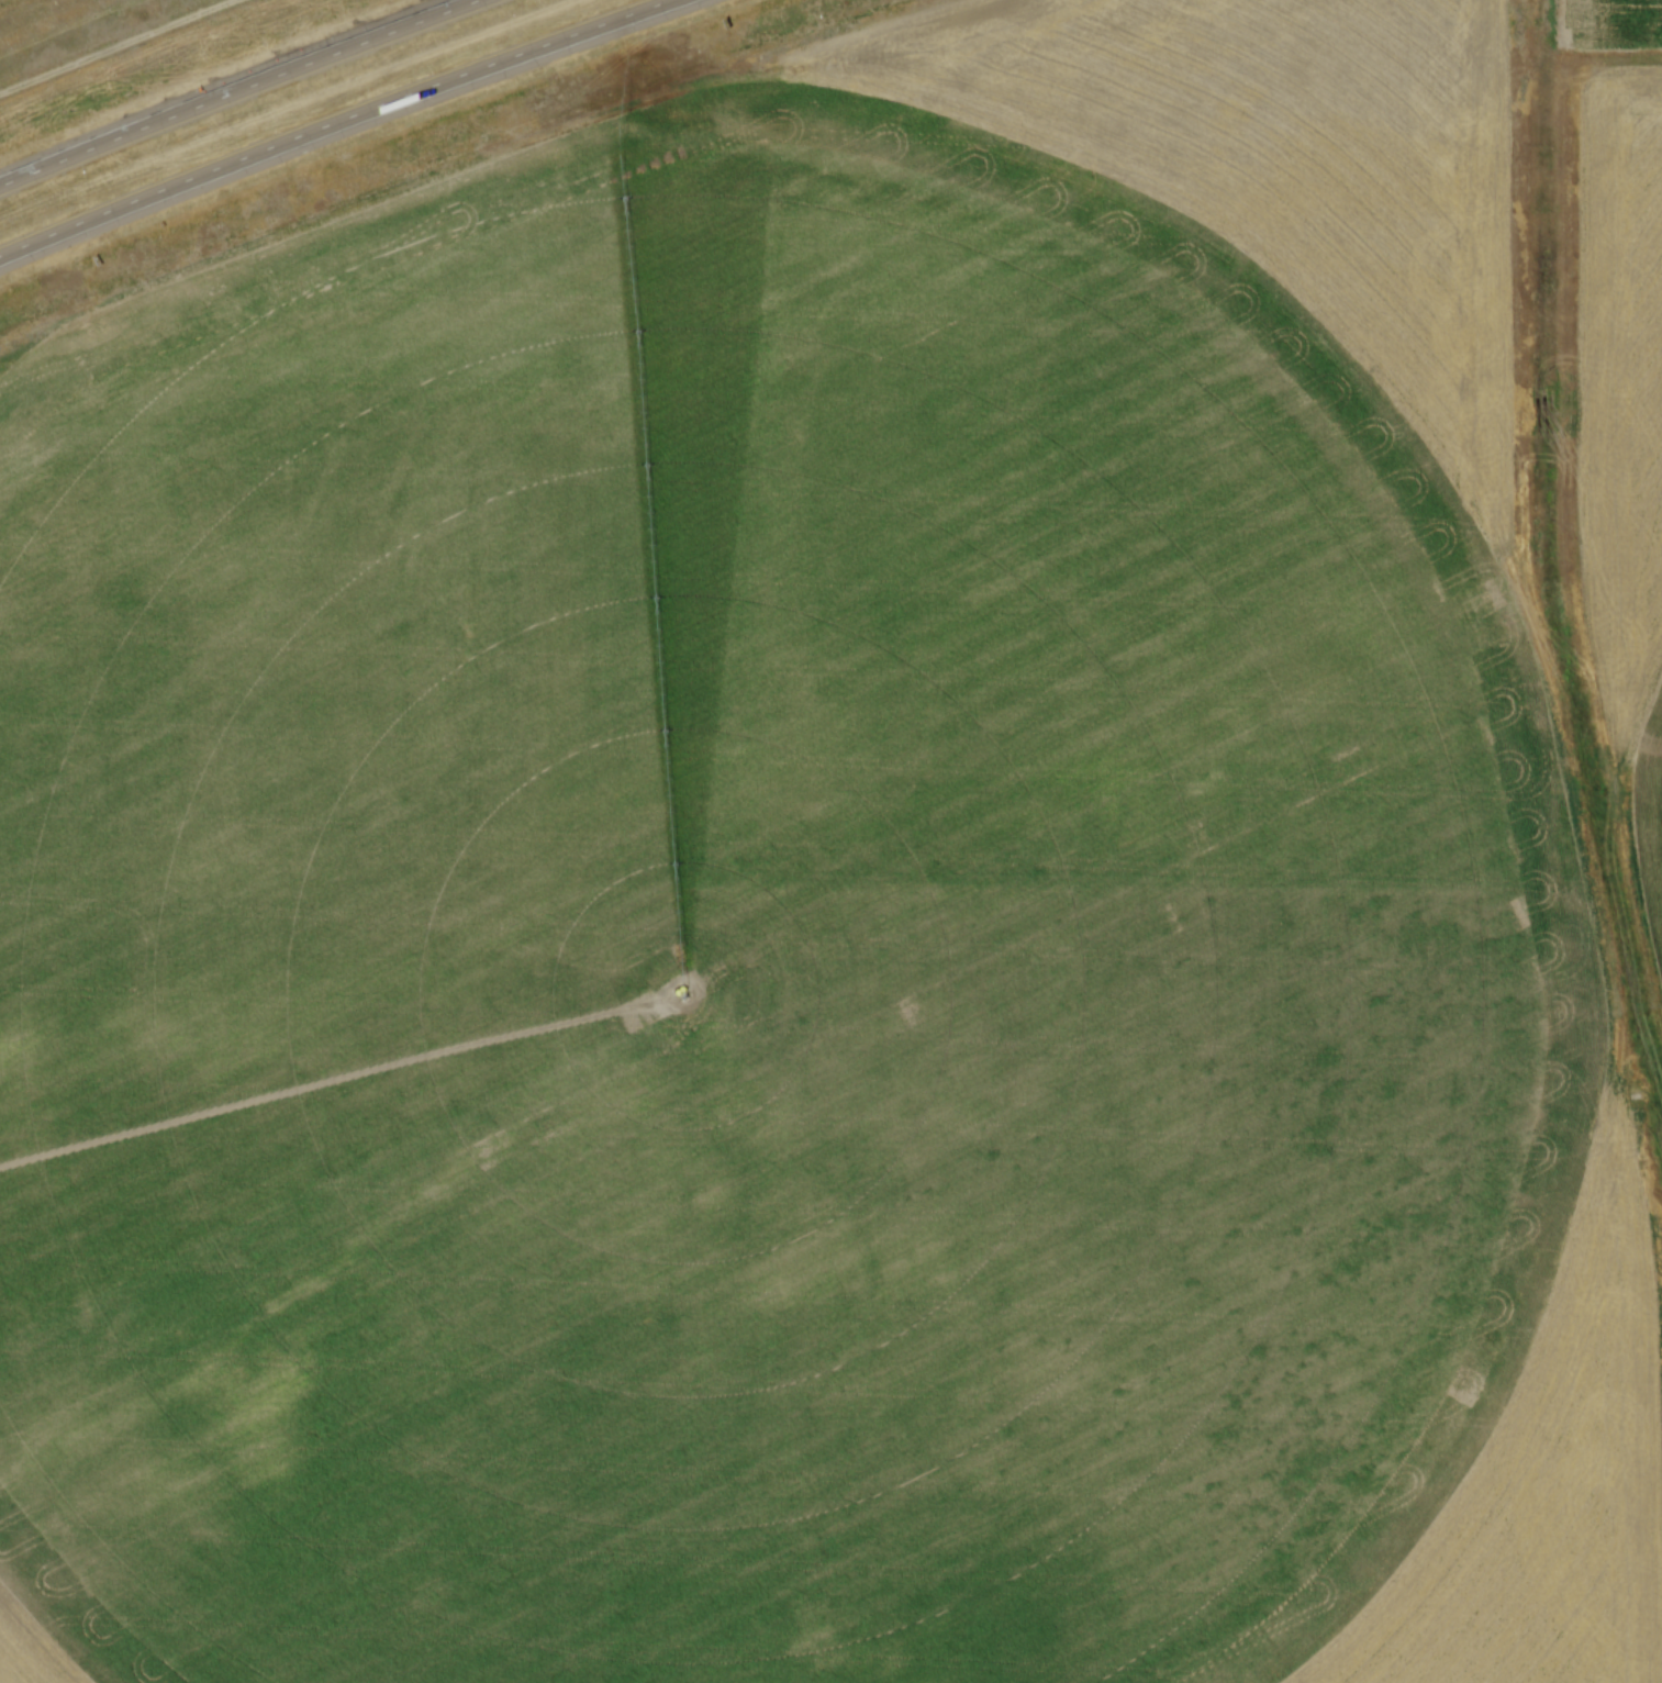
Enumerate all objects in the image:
road: (114, 45)
road: (235, 92)
road: (338, 124)

